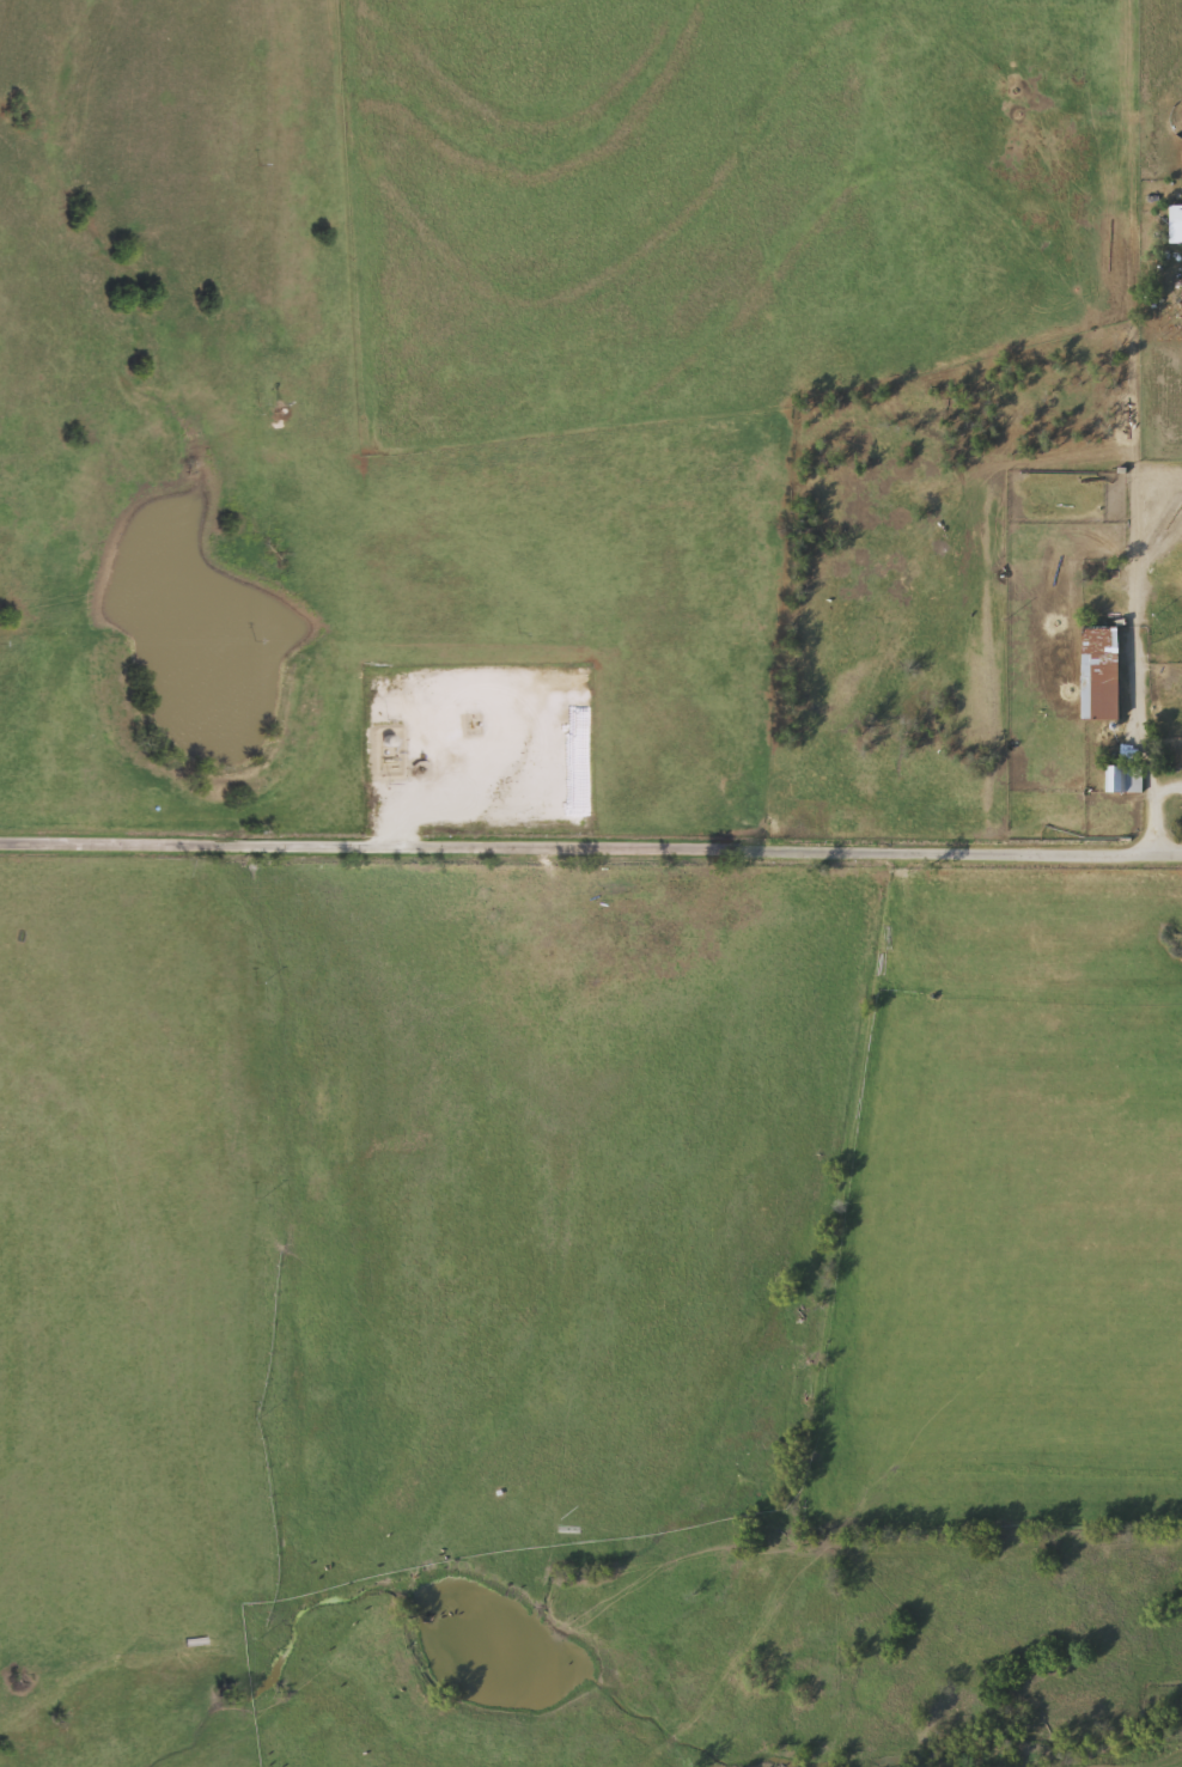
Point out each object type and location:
road: (1138, 659)
building: (1104, 670)
building: (1125, 776)
road: (591, 849)

